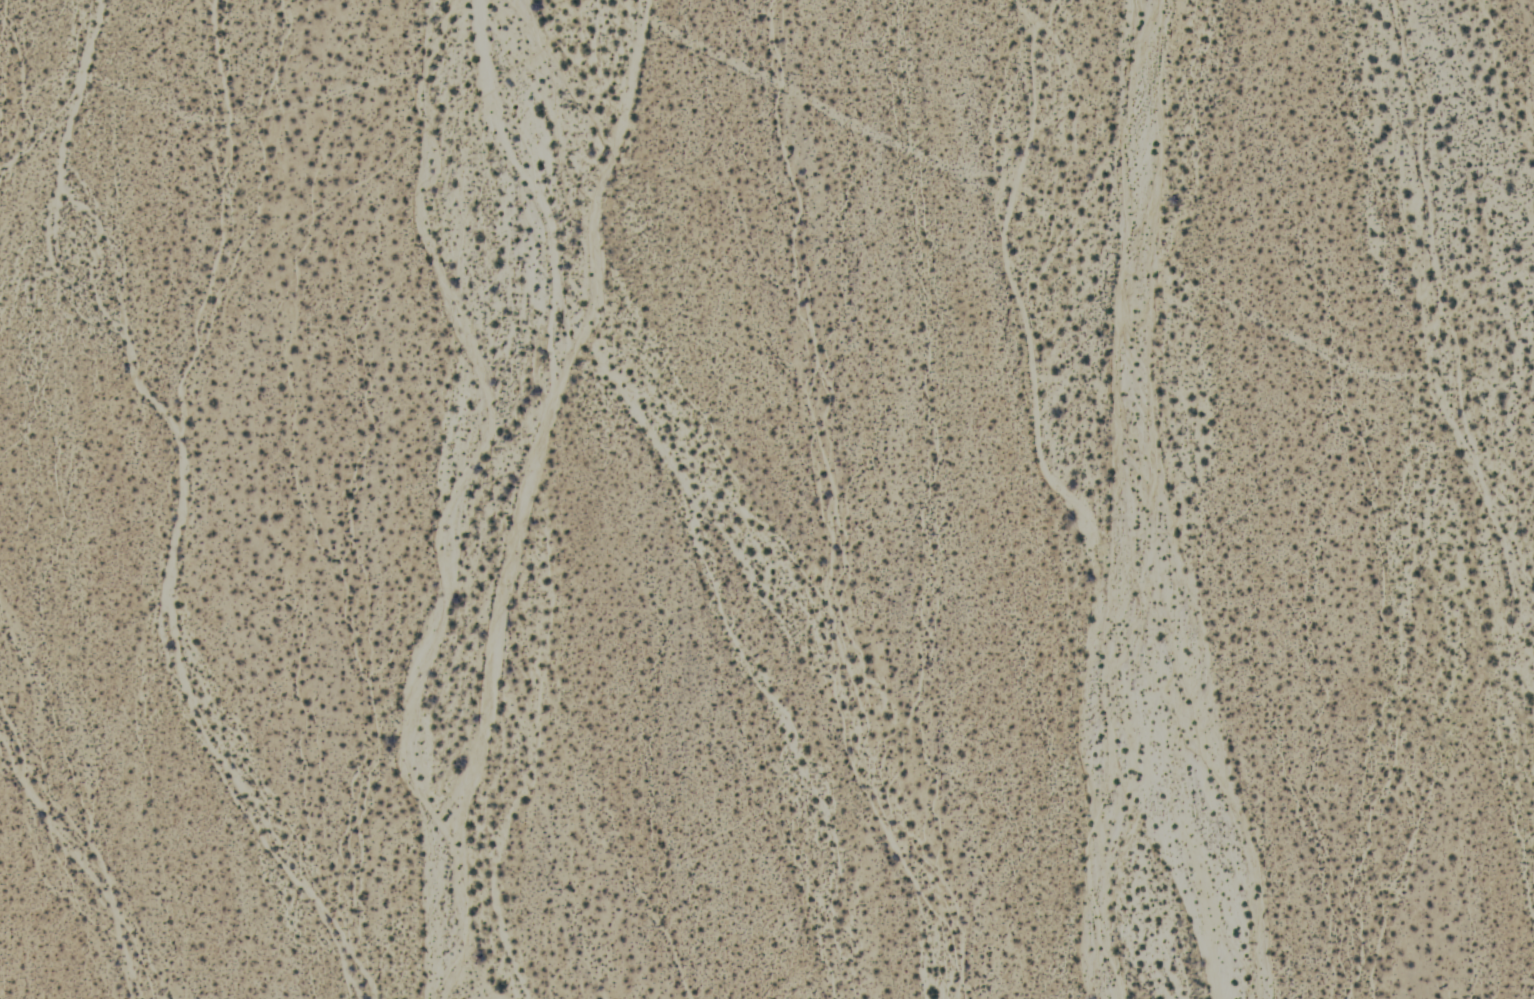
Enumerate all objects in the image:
road: (1079, 245)

